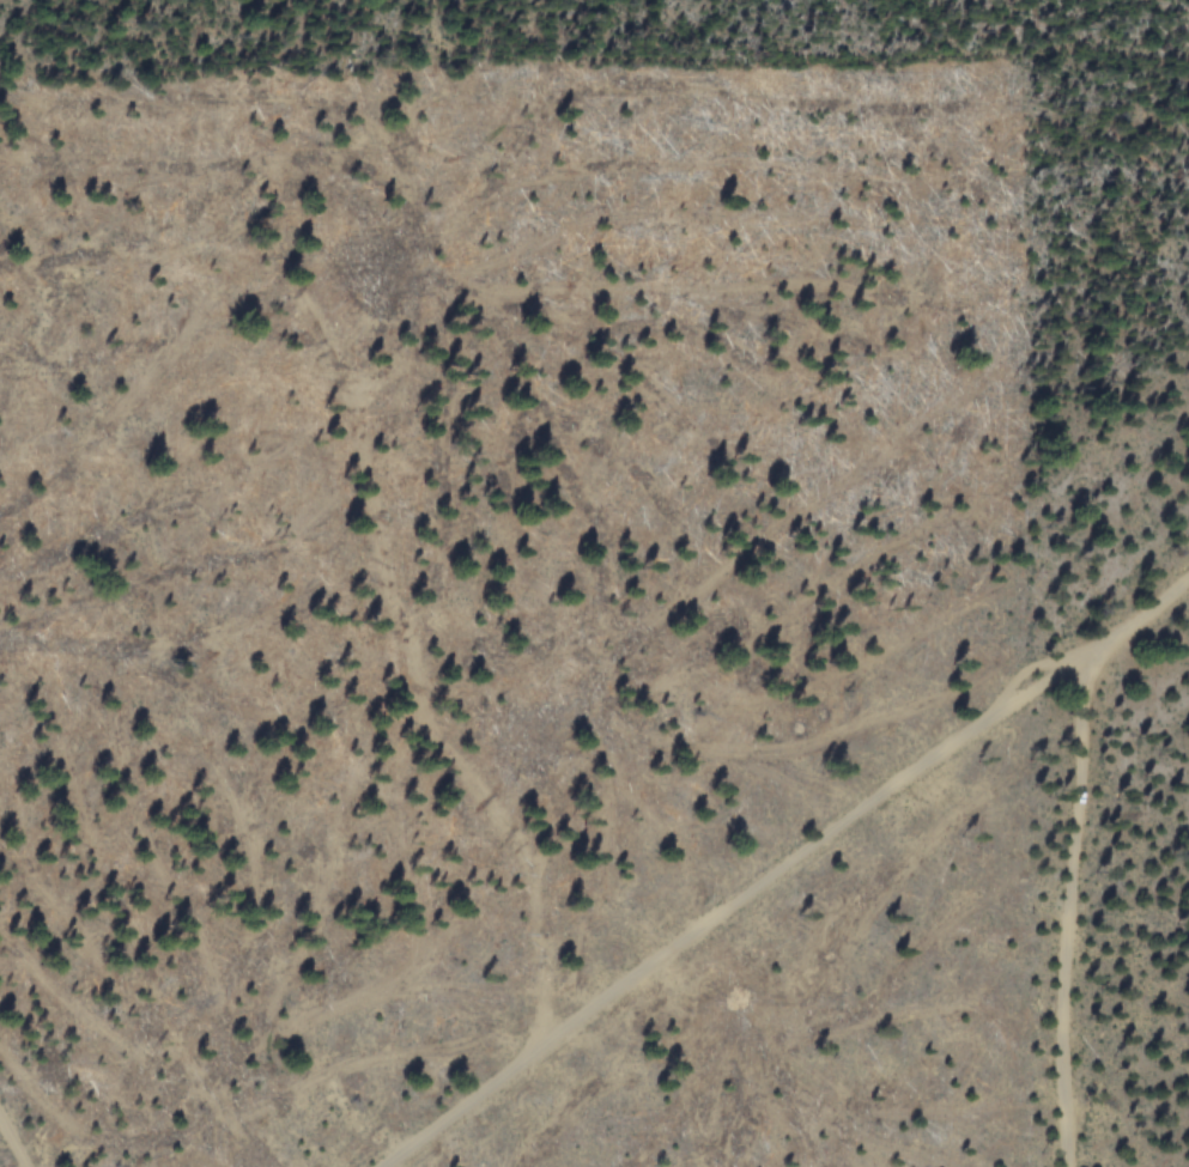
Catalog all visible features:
road: (782, 868)
road: (1075, 899)
road: (7, 1153)

